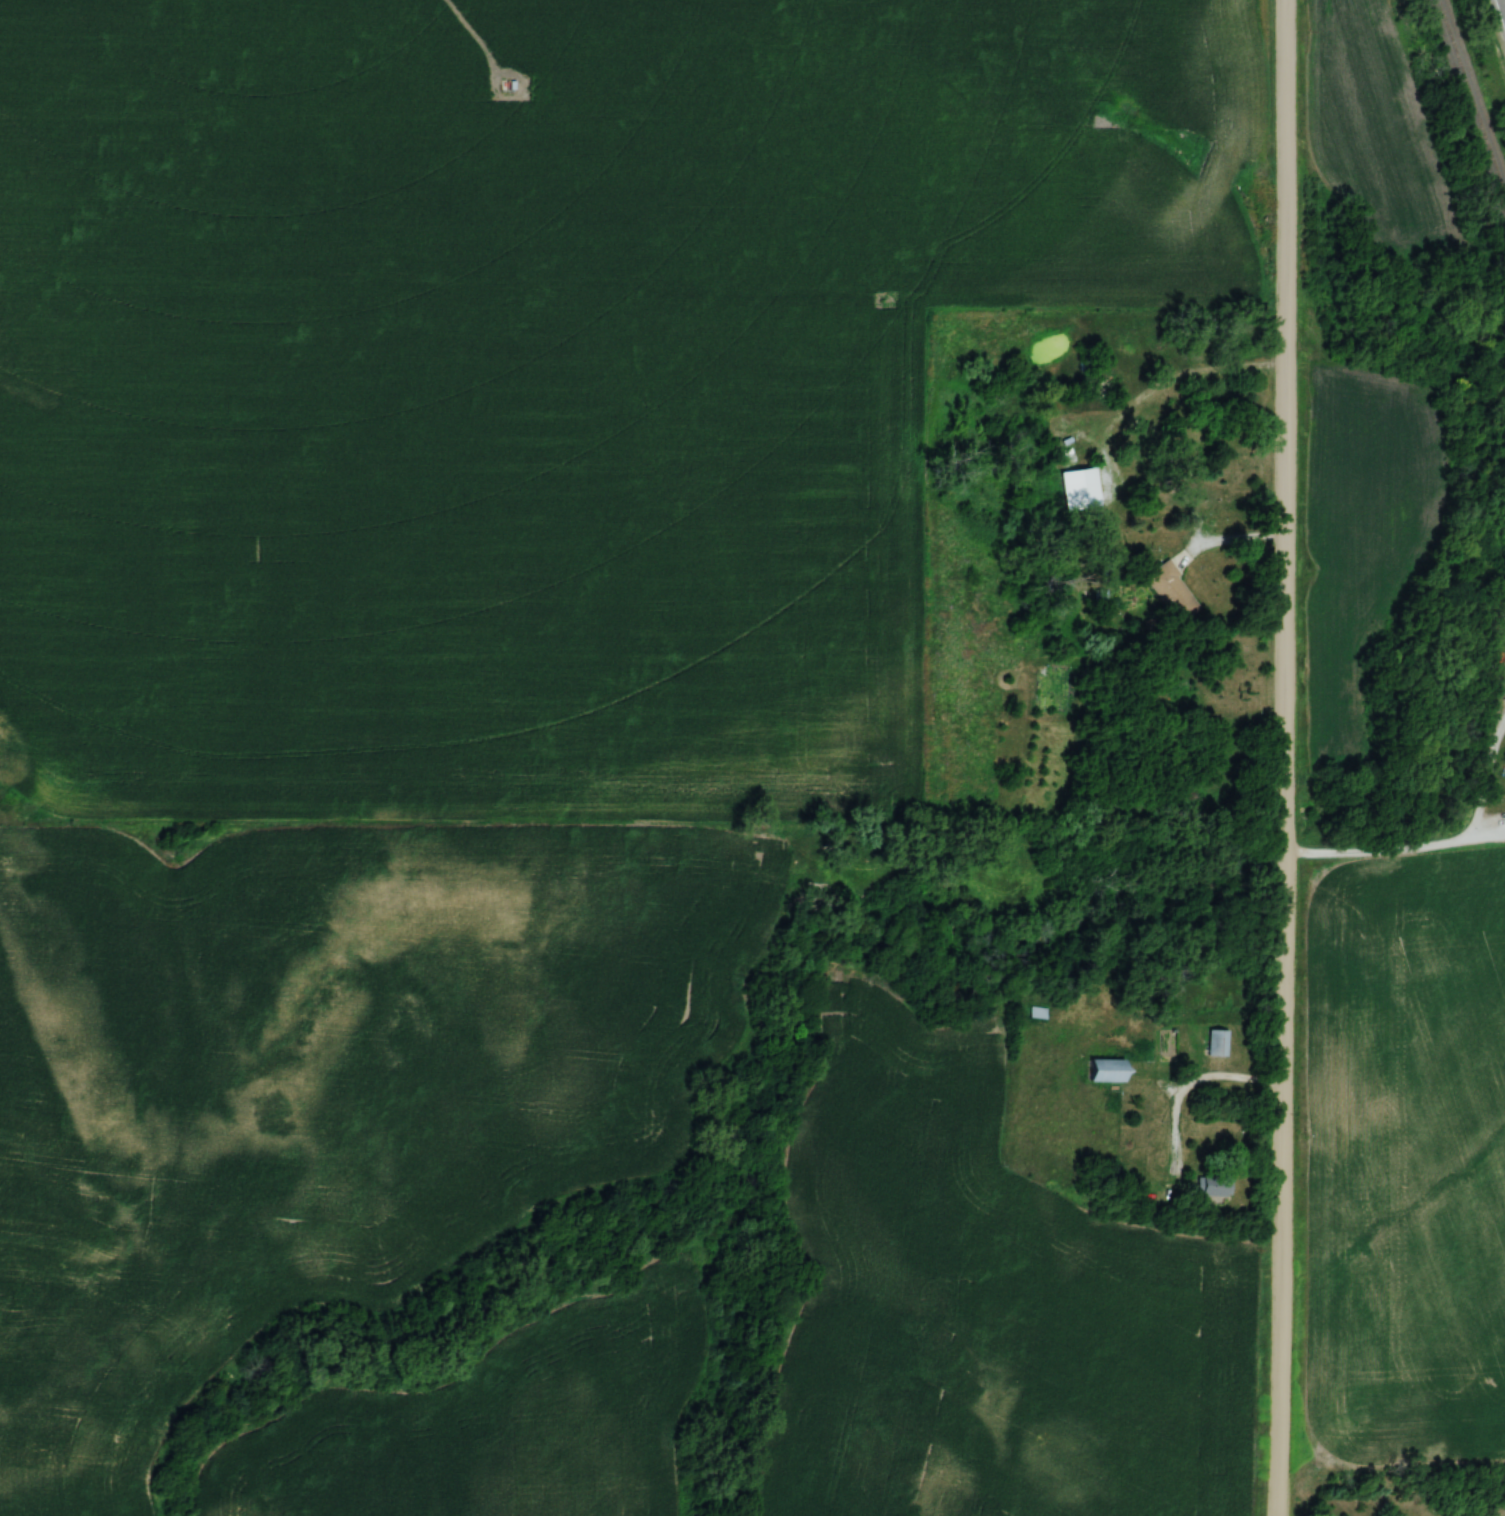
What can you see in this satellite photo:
railway: (1472, 93)
crop: (1371, 125)
road: (1156, 380)
building: (1086, 388)
building: (1078, 488)
crop: (1358, 525)
building: (1172, 592)
road: (1284, 758)
road: (1484, 774)
road: (1395, 847)
building: (1037, 1013)
building: (1217, 1043)
building: (1107, 1071)
road: (1201, 1083)
building: (1212, 1186)

